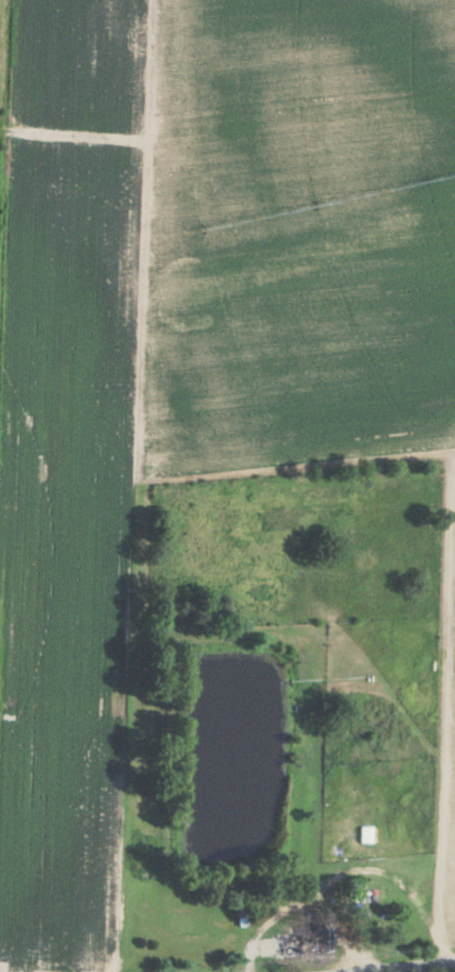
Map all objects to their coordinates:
road: (384, 965)

